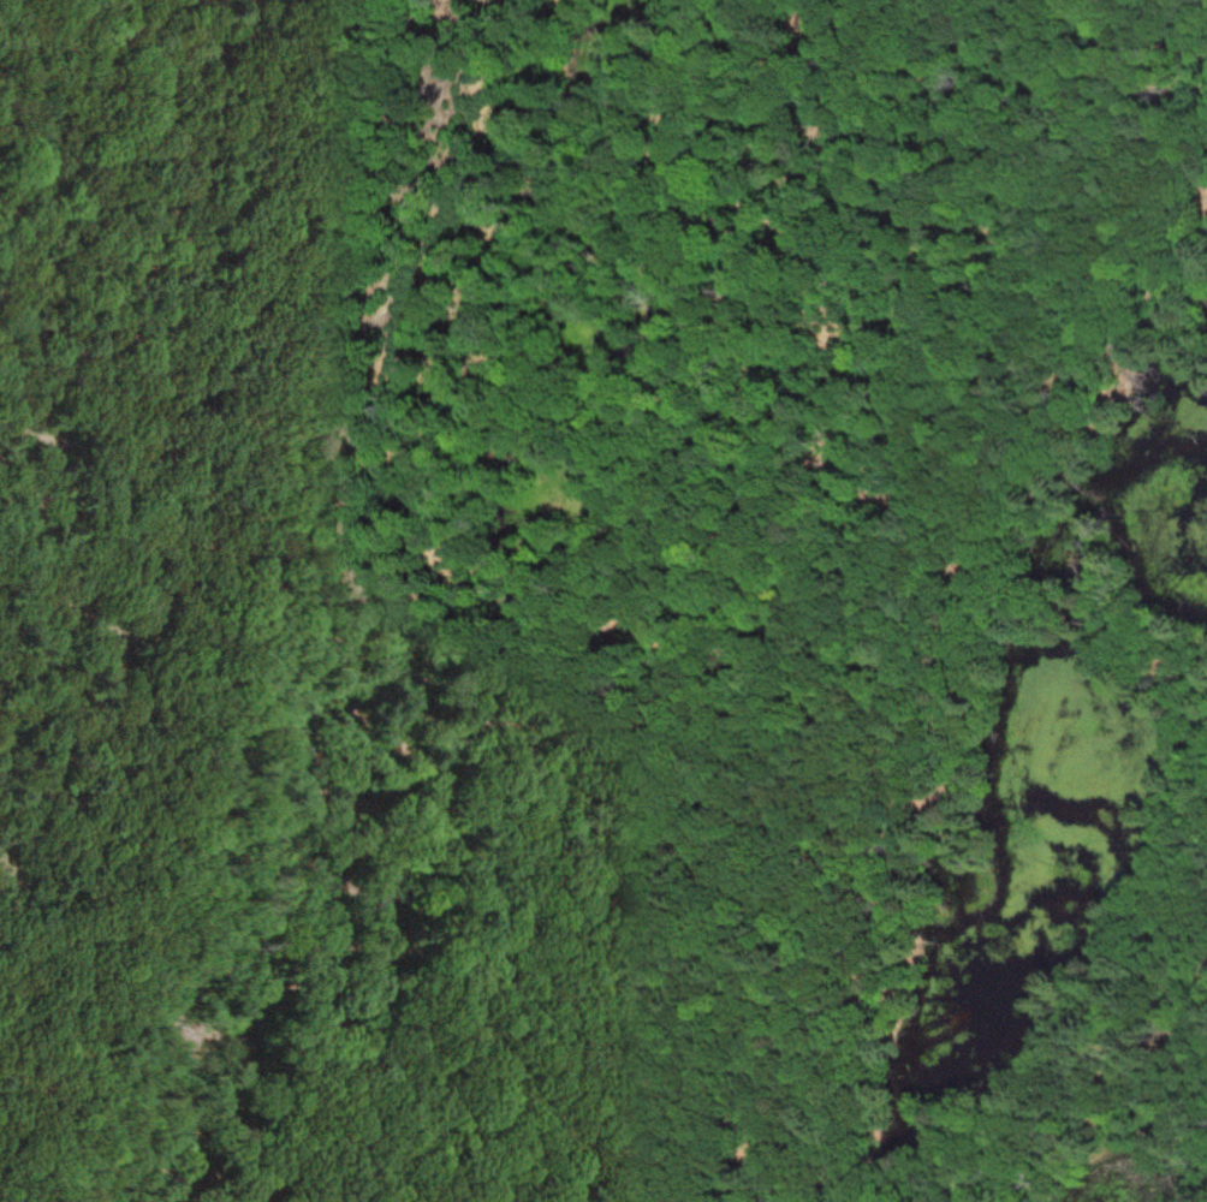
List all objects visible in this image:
park: (603, 601)
road: (252, 609)
road: (1105, 1158)

